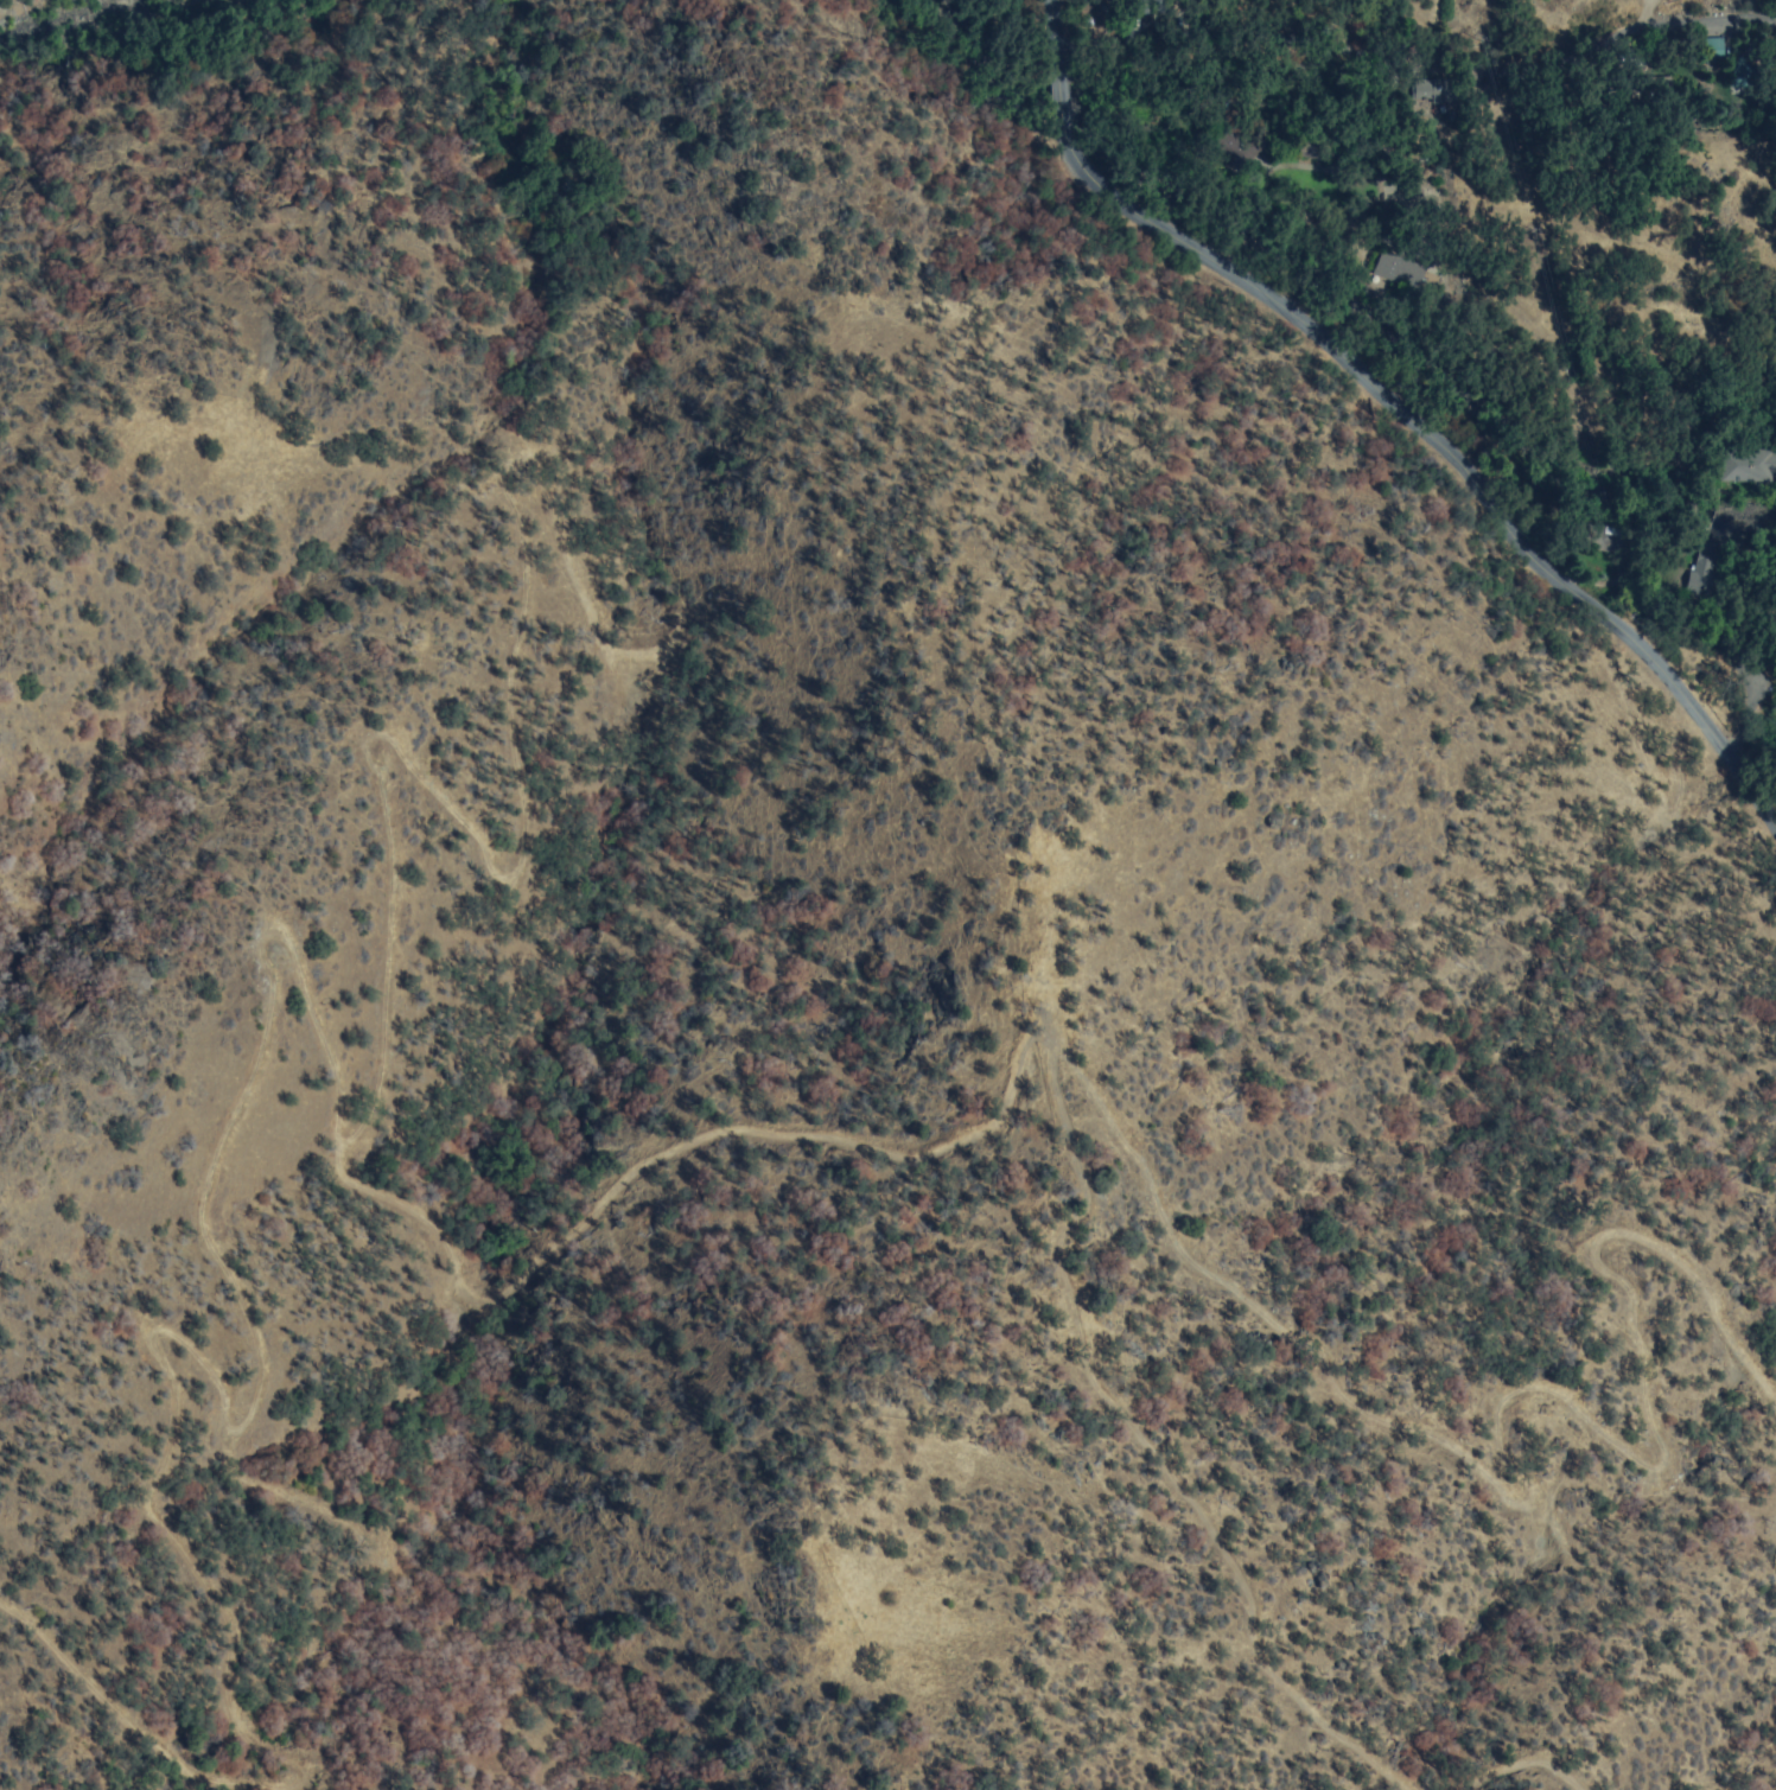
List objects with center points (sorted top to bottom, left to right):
river: (46, 8)
building: (1740, 72)
building: (1490, 115)
road: (1431, 125)
building: (1396, 272)
road: (1396, 406)

